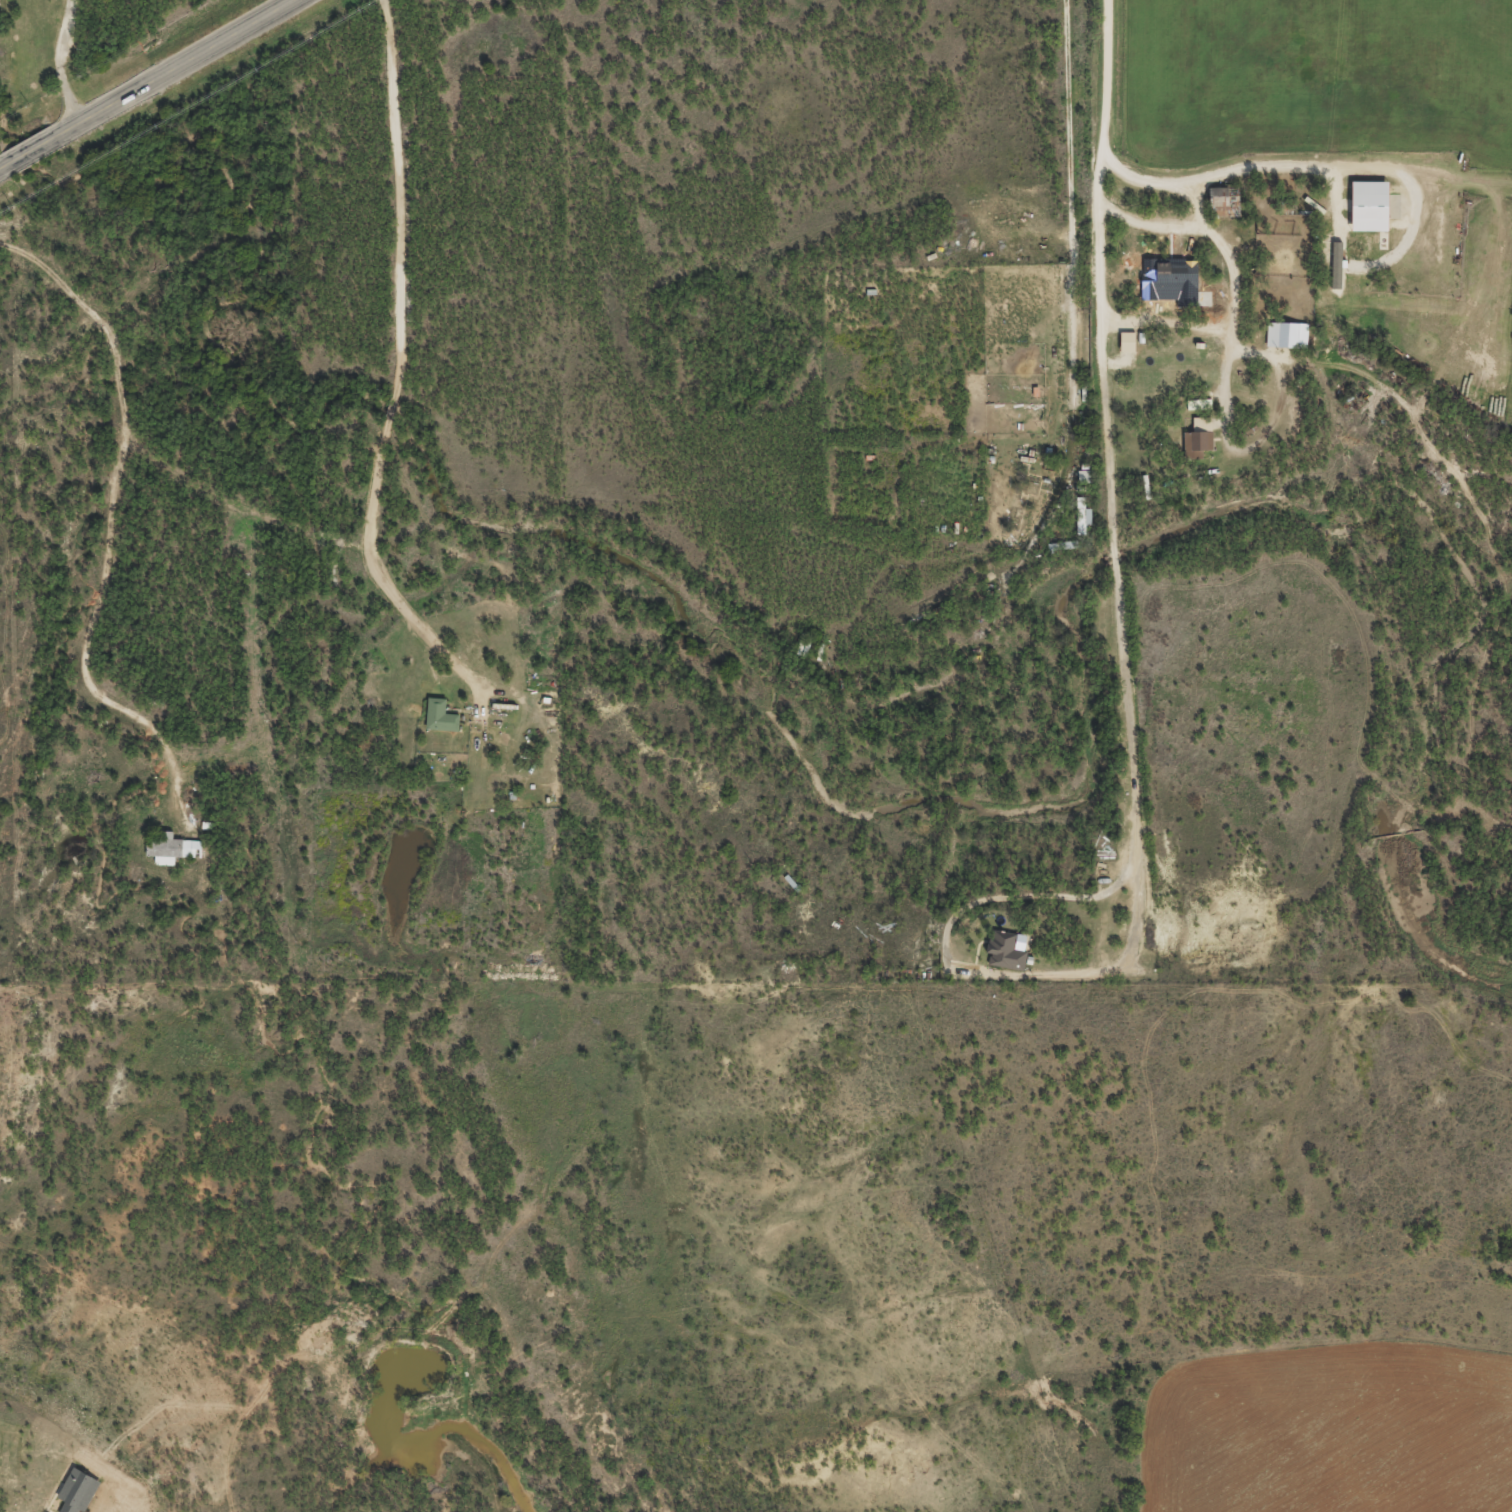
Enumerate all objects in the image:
road: (147, 83)
road: (398, 198)
building: (1369, 205)
building: (1173, 275)
building: (1286, 334)
building: (1127, 341)
road: (390, 408)
road: (1107, 431)
building: (1197, 443)
road: (380, 578)
building: (440, 715)
building: (172, 848)
building: (1005, 951)
road: (962, 969)
building: (77, 1490)

